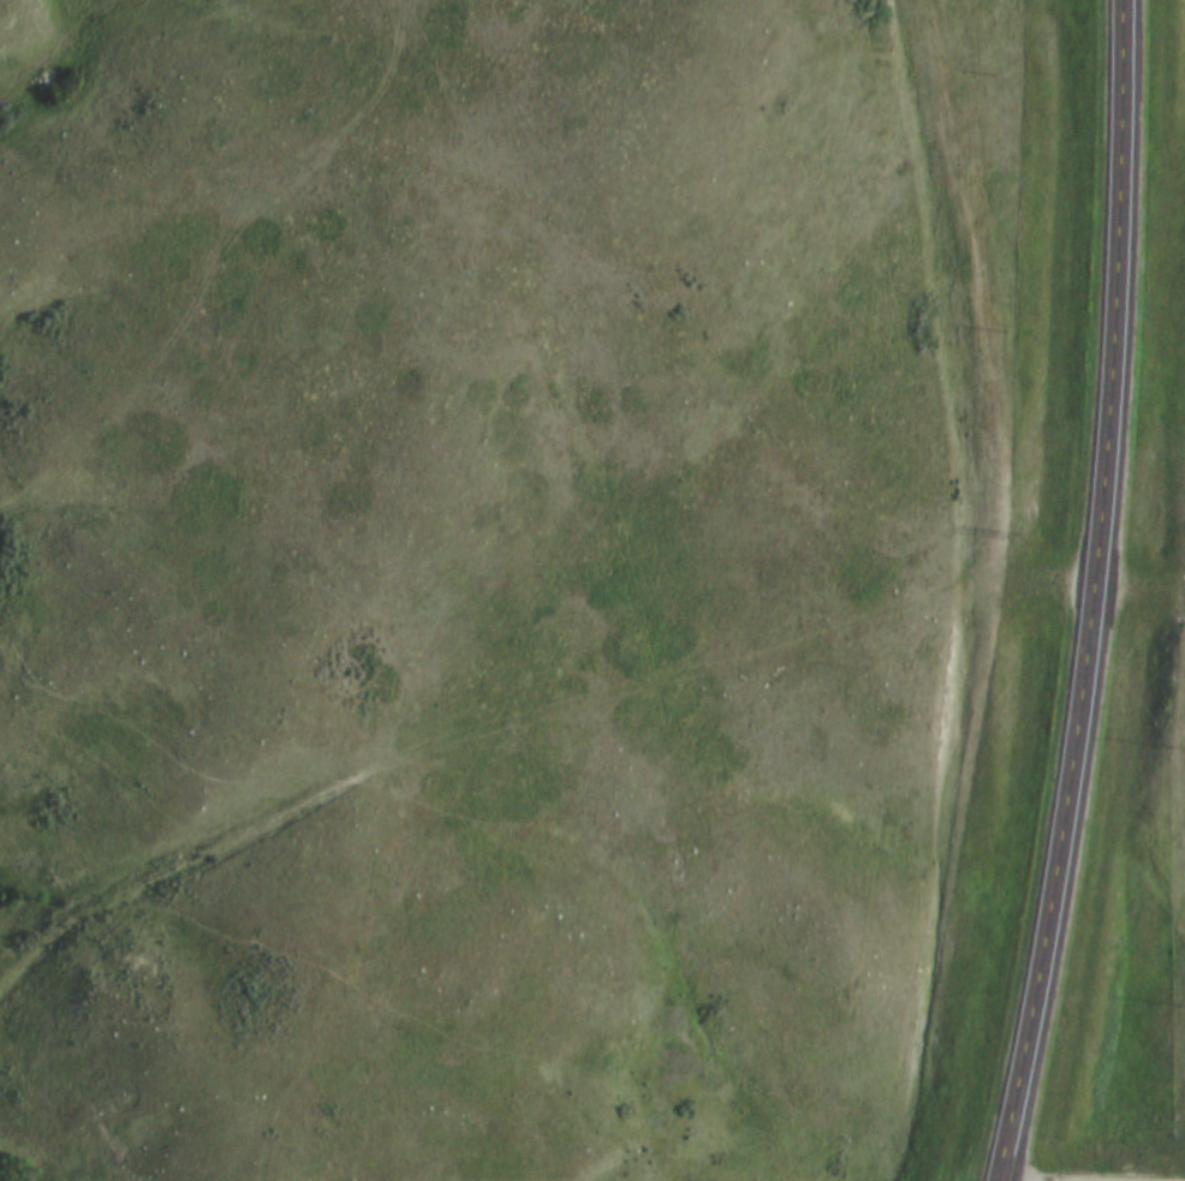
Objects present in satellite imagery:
road: (1096, 592)

